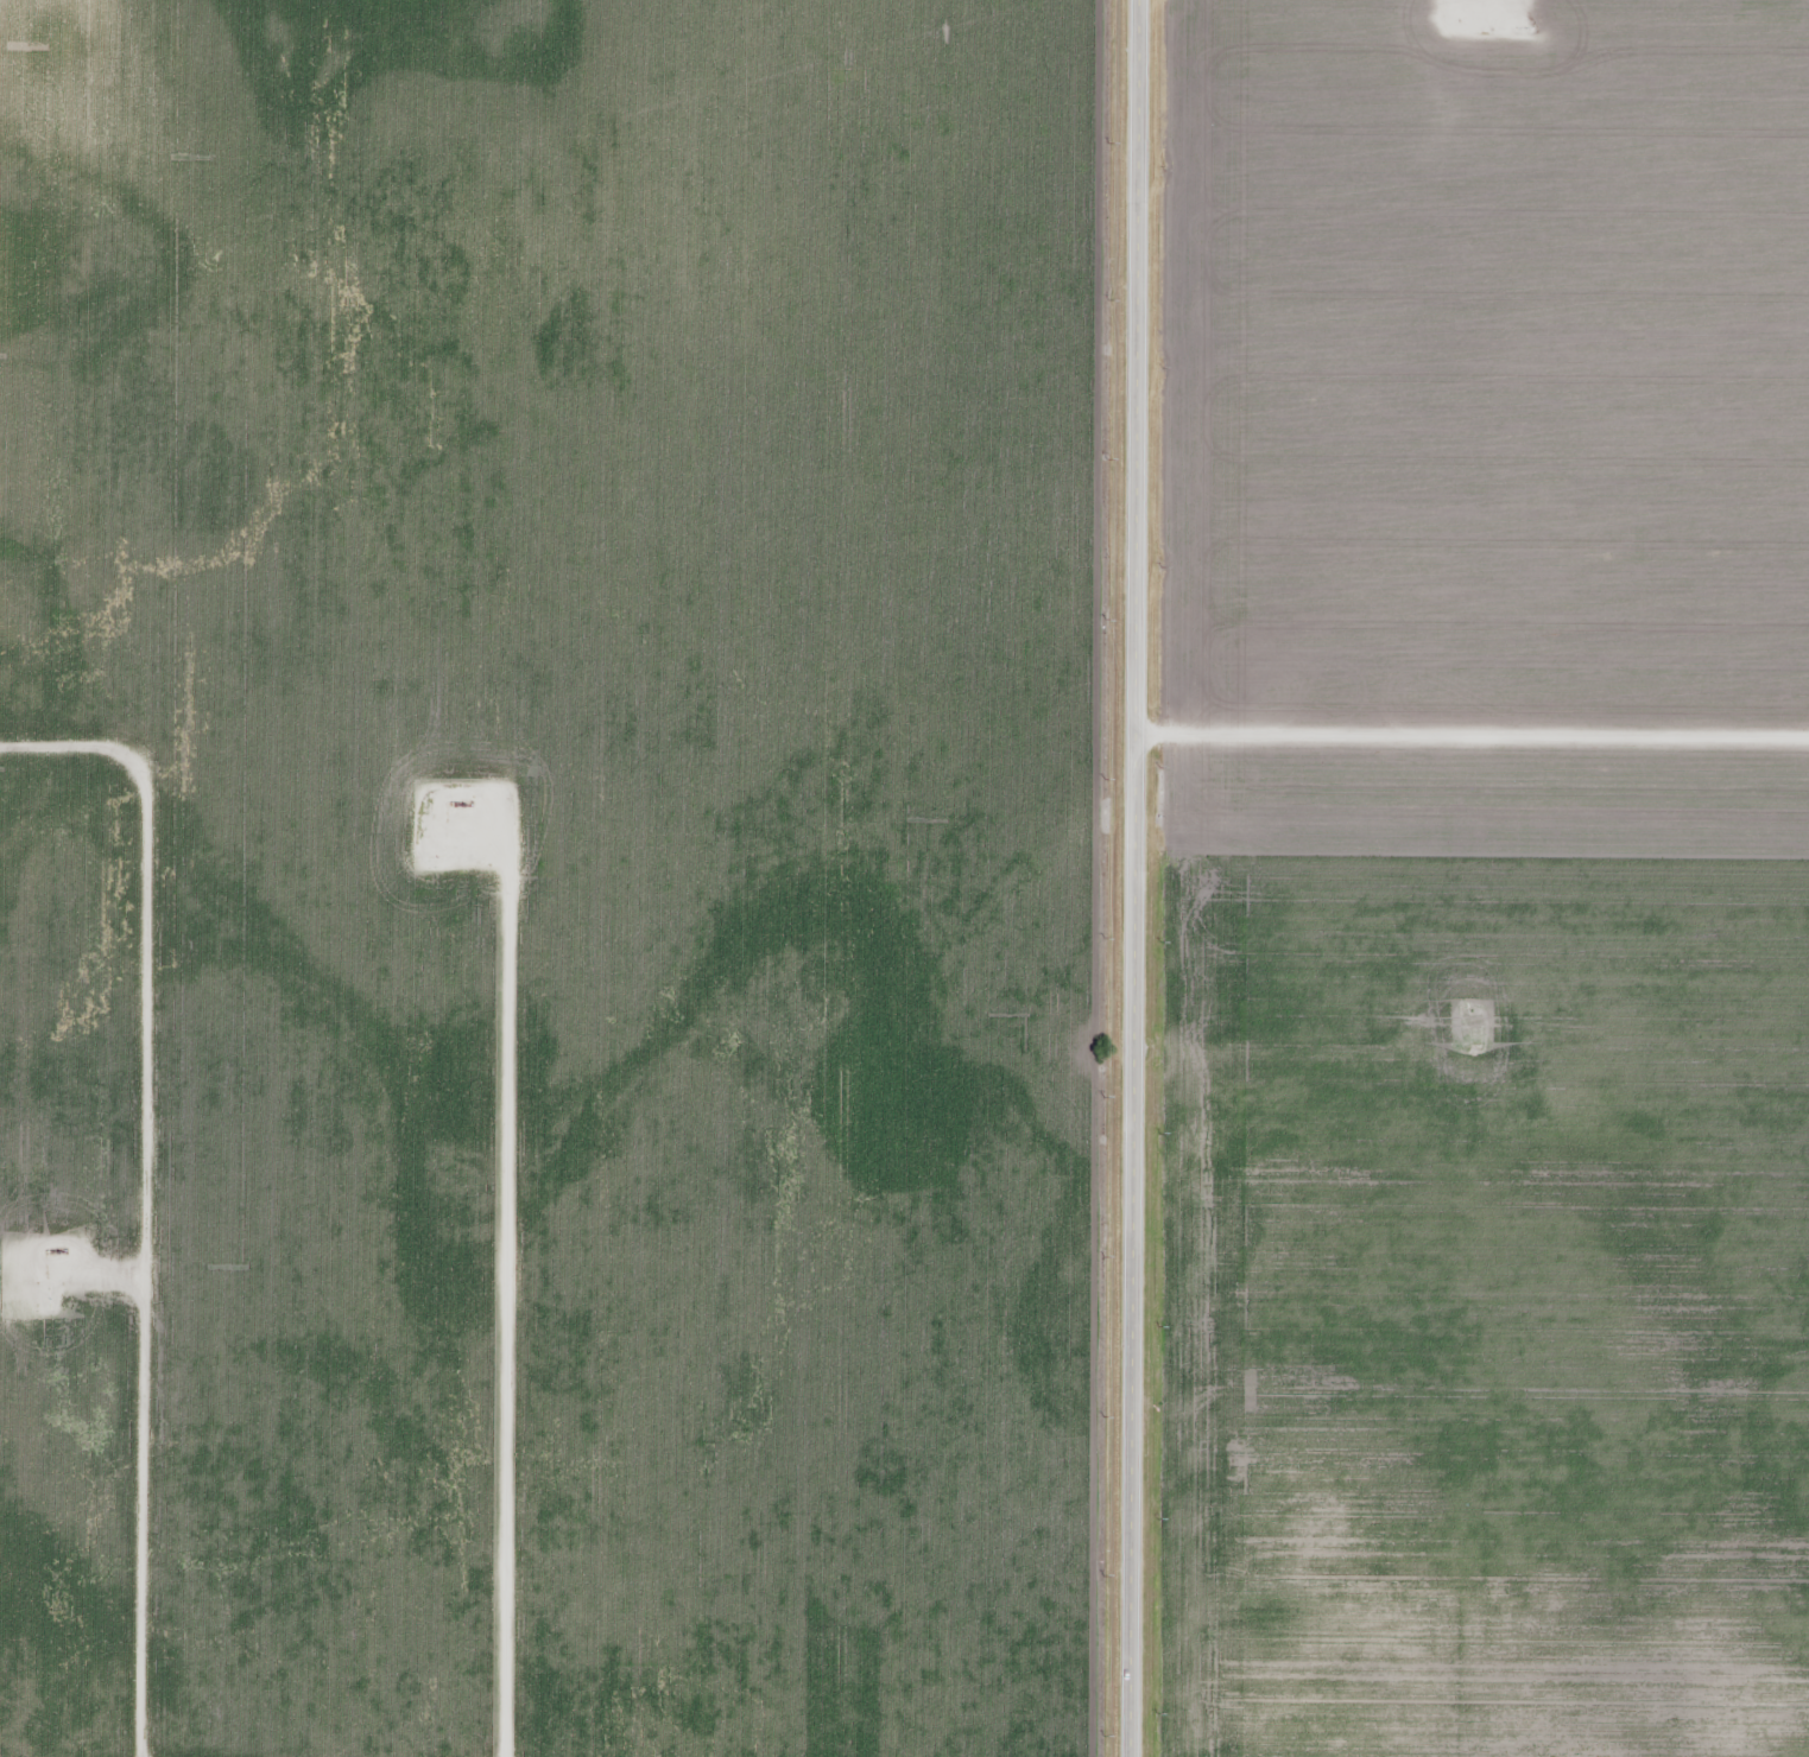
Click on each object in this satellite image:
road: (1472, 738)
road: (1133, 878)
road: (143, 1193)
road: (81, 1276)
road: (501, 1280)

